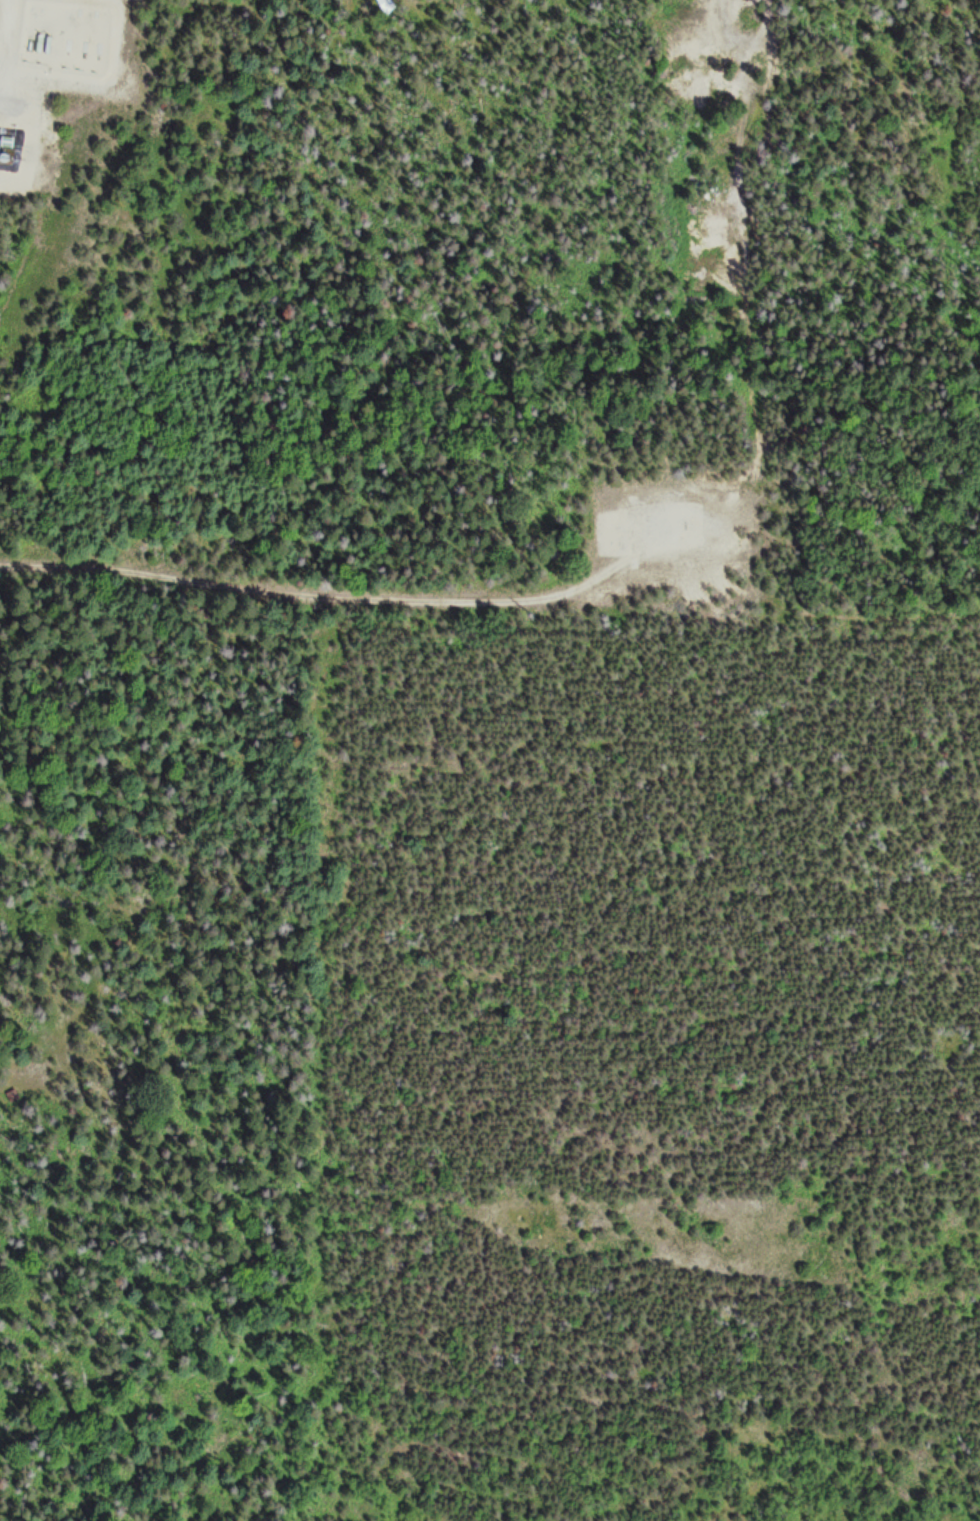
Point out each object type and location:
building: (386, 4)
road: (333, 584)

